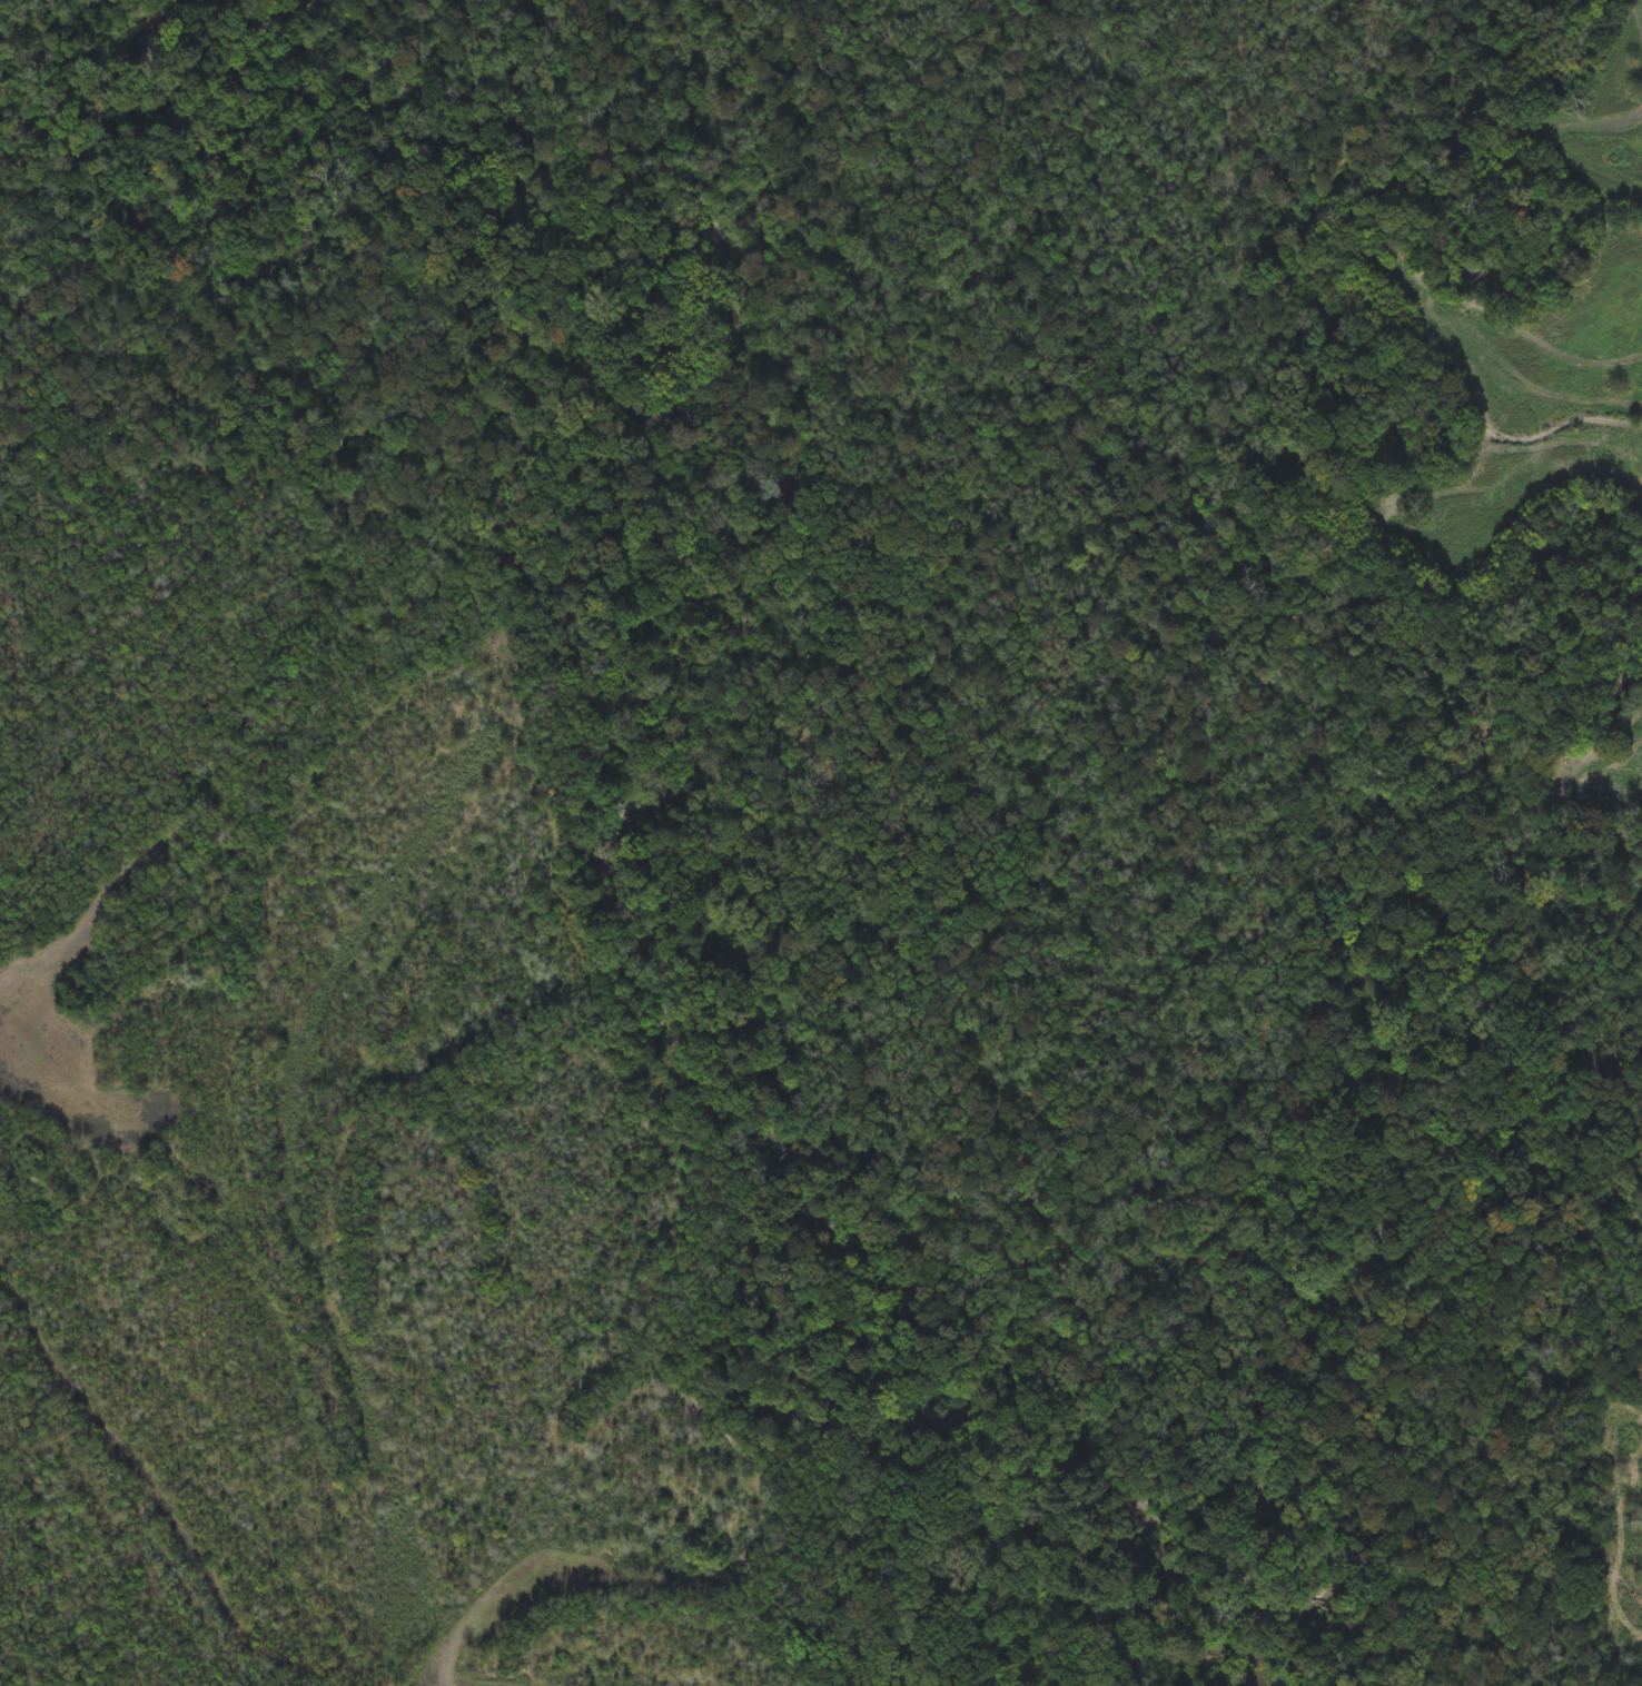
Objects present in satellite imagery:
river: (1242, 1657)

